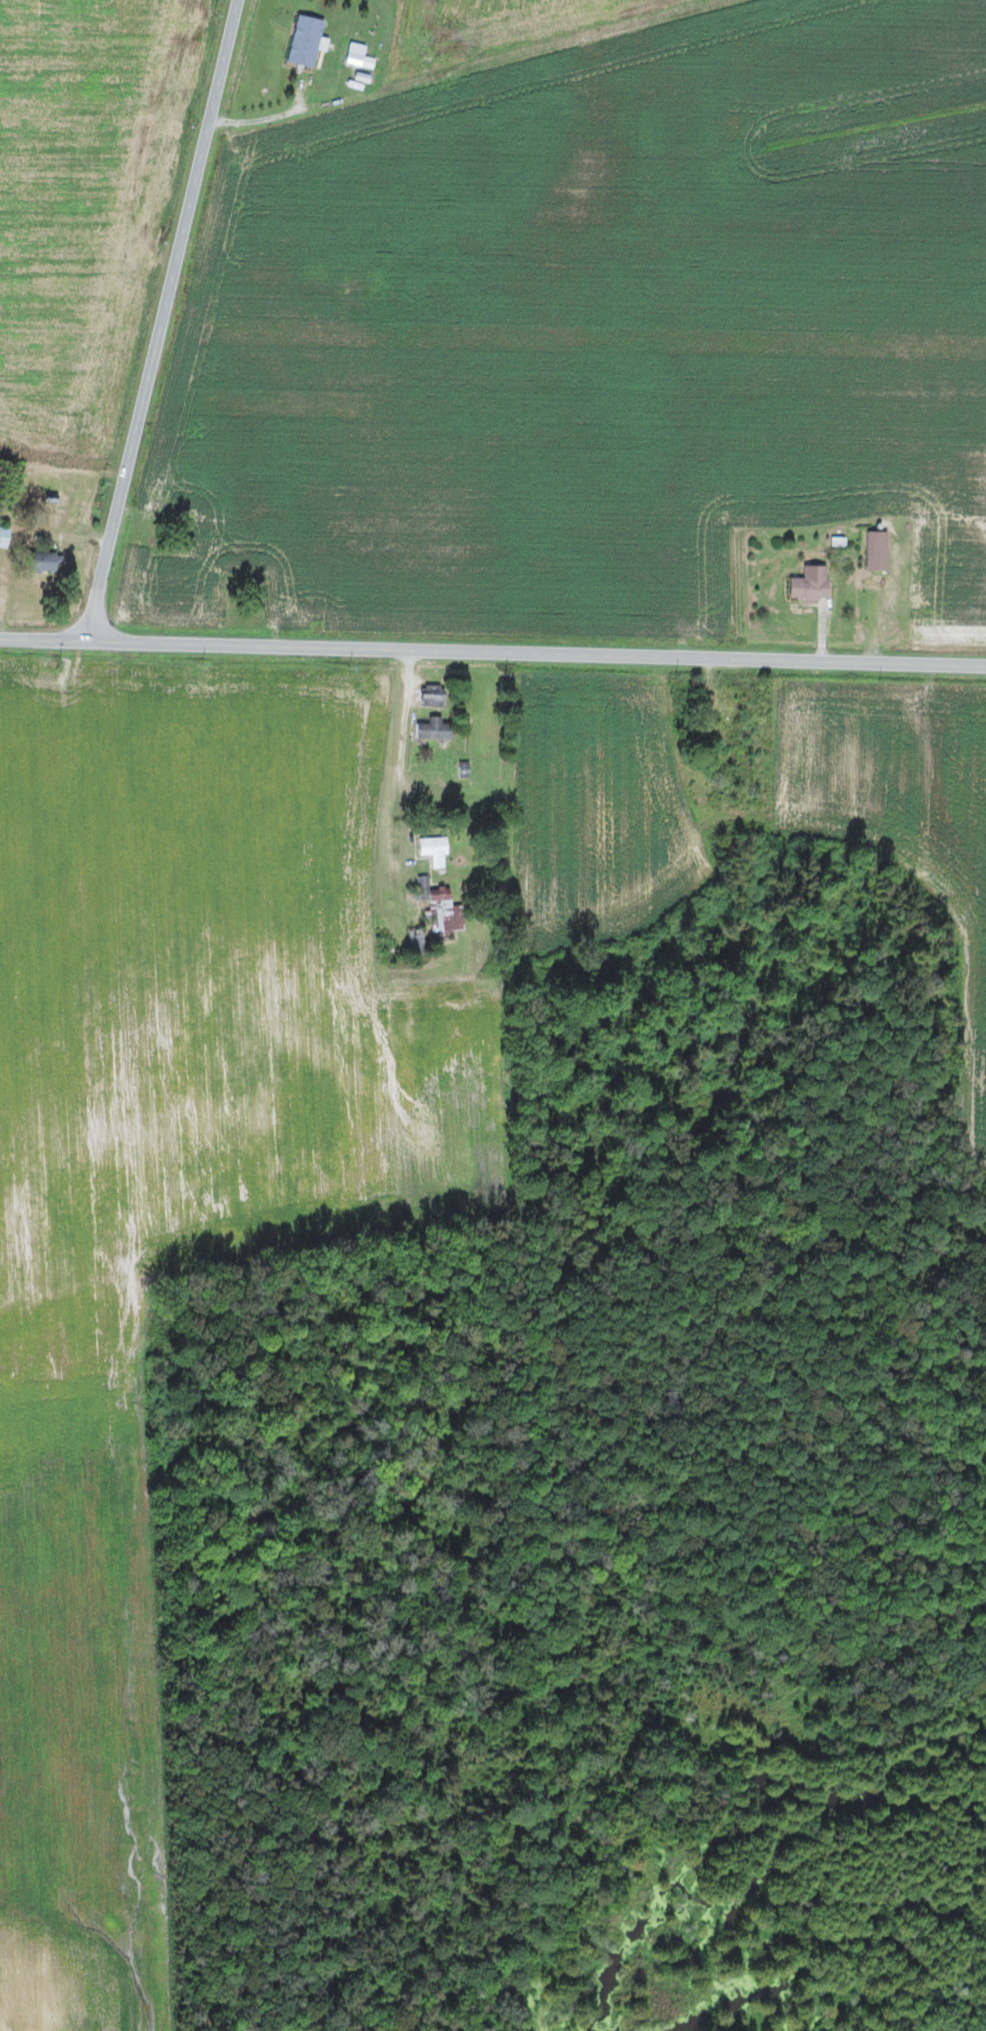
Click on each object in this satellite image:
building: (309, 41)
building: (360, 56)
road: (165, 320)
building: (5, 536)
building: (879, 550)
building: (48, 560)
building: (814, 583)
road: (42, 639)
road: (535, 652)
building: (435, 695)
building: (434, 728)
building: (435, 849)
building: (444, 912)

